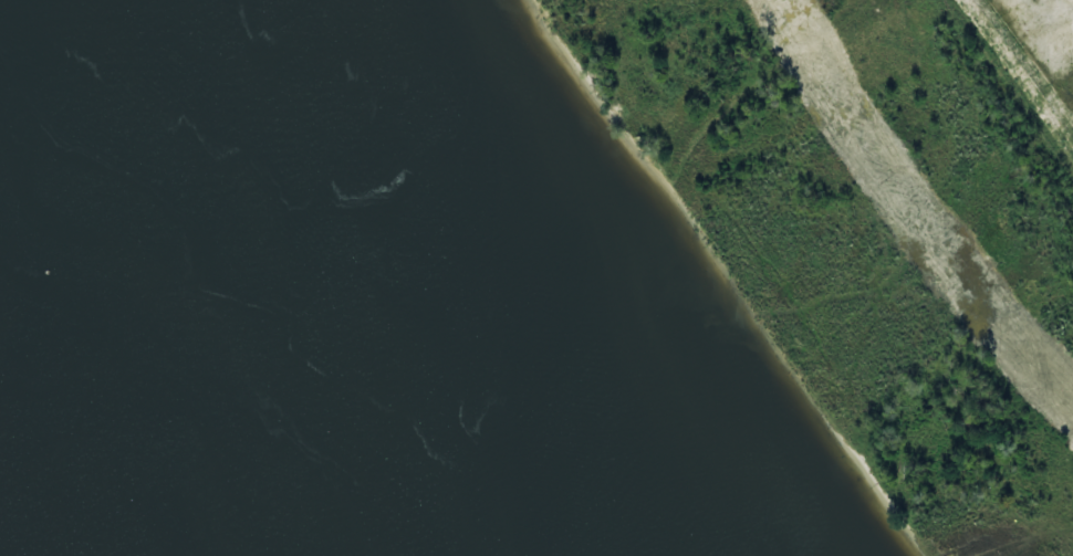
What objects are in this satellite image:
river: (248, 277)

